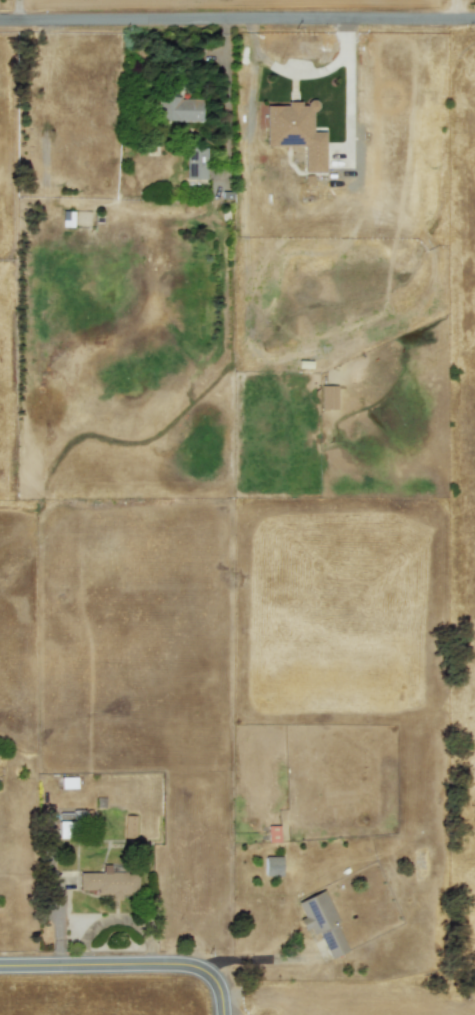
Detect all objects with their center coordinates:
road: (18, 11)
road: (237, 20)
road: (226, 99)
building: (178, 109)
building: (296, 131)
building: (196, 162)
building: (66, 218)
building: (327, 397)
building: (68, 782)
building: (129, 826)
building: (272, 833)
building: (272, 865)
building: (110, 882)
building: (321, 921)
road: (127, 965)

